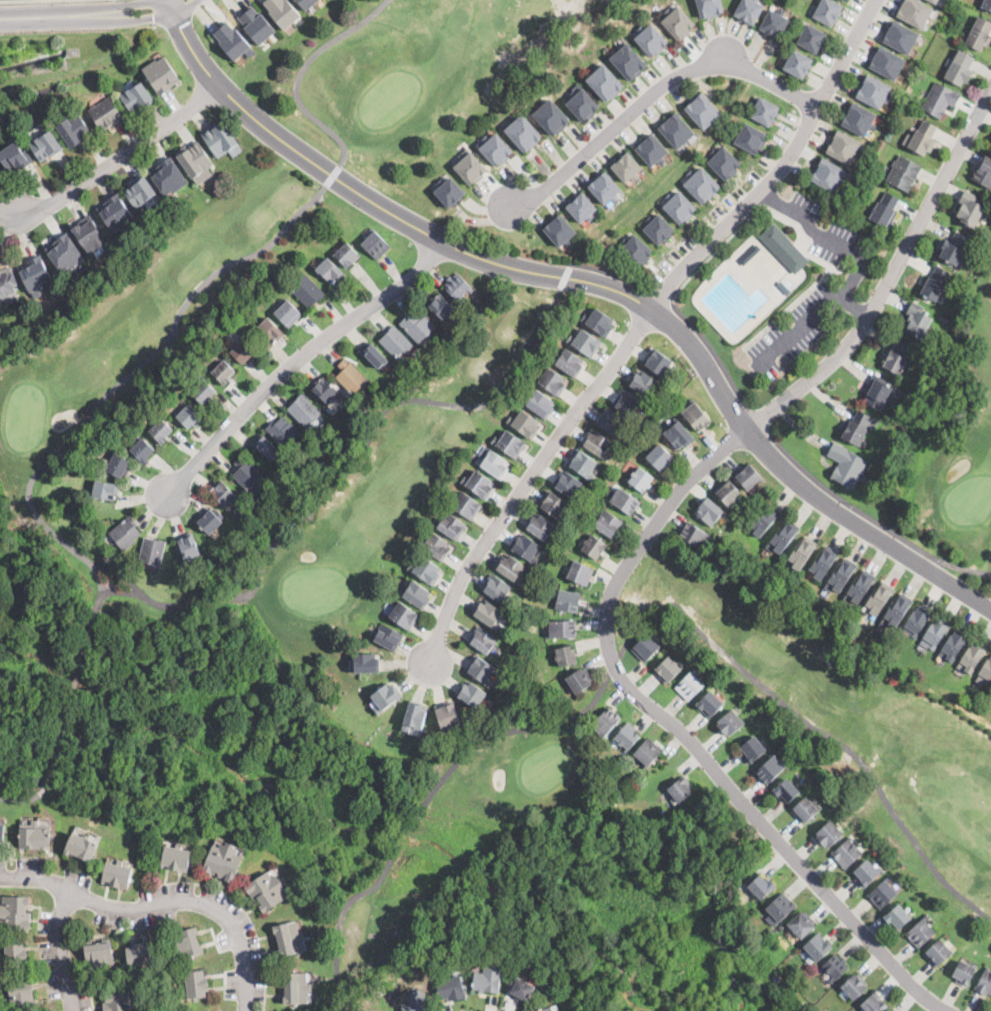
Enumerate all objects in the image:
road: (12, 0)
building: (845, 0)
building: (934, 1)
building: (305, 4)
building: (987, 4)
building: (710, 8)
road: (87, 10)
building: (749, 10)
building: (281, 12)
building: (827, 12)
building: (915, 12)
building: (678, 23)
building: (774, 24)
building: (255, 25)
building: (979, 34)
building: (901, 37)
building: (148, 38)
building: (811, 38)
building: (231, 40)
building: (651, 40)
building: (628, 62)
building: (887, 63)
building: (800, 65)
building: (960, 69)
road: (304, 71)
building: (161, 75)
building: (604, 82)
road: (652, 90)
building: (873, 91)
building: (137, 97)
building: (940, 99)
building: (583, 105)
building: (702, 110)
building: (763, 110)
building: (106, 113)
building: (550, 116)
building: (859, 119)
building: (73, 129)
building: (676, 130)
building: (523, 133)
building: (749, 137)
building: (924, 137)
building: (221, 139)
building: (45, 145)
building: (990, 145)
building: (844, 147)
building: (496, 150)
building: (652, 150)
building: (15, 157)
road: (124, 158)
building: (196, 162)
building: (724, 162)
building: (627, 167)
road: (779, 167)
building: (470, 168)
building: (983, 171)
building: (904, 172)
building: (829, 174)
road: (332, 175)
building: (168, 176)
building: (700, 184)
building: (604, 188)
building: (139, 191)
building: (449, 191)
road: (773, 199)
building: (679, 207)
building: (581, 208)
building: (970, 208)
building: (885, 210)
building: (116, 212)
building: (657, 228)
building: (560, 230)
building: (88, 234)
building: (375, 244)
building: (784, 248)
building: (954, 248)
building: (635, 250)
road: (712, 252)
building: (65, 253)
building: (749, 253)
building: (347, 254)
building: (329, 270)
road: (606, 271)
building: (36, 275)
road: (563, 276)
road: (891, 276)
parking lot: (850, 281)
road: (591, 282)
road: (850, 283)
building: (935, 283)
building: (7, 284)
building: (457, 286)
building: (783, 286)
building: (306, 290)
road: (656, 296)
building: (442, 306)
road: (853, 306)
building: (288, 312)
building: (945, 316)
building: (916, 320)
building: (599, 322)
building: (417, 326)
building: (270, 330)
building: (395, 342)
building: (584, 342)
building: (243, 351)
road: (712, 353)
building: (374, 354)
road: (297, 357)
building: (897, 357)
building: (568, 362)
building: (658, 362)
building: (223, 371)
building: (352, 376)
building: (552, 380)
building: (643, 382)
building: (325, 390)
building: (203, 391)
building: (876, 393)
road: (96, 403)
building: (538, 403)
building: (629, 403)
building: (303, 409)
building: (189, 416)
building: (696, 416)
road: (757, 418)
building: (611, 422)
building: (524, 423)
building: (858, 427)
building: (161, 430)
building: (283, 431)
building: (679, 435)
building: (509, 443)
building: (597, 444)
building: (266, 446)
building: (142, 450)
park: (947, 450)
building: (659, 456)
building: (493, 463)
building: (582, 463)
building: (846, 465)
building: (118, 466)
road: (338, 467)
building: (248, 474)
building: (748, 476)
building: (641, 478)
road: (527, 479)
building: (478, 484)
building: (568, 484)
building: (105, 490)
building: (728, 492)
building: (222, 493)
park: (280, 495)
building: (622, 499)
building: (553, 503)
building: (465, 505)
building: (708, 511)
road: (870, 518)
building: (211, 519)
building: (764, 520)
building: (608, 523)
building: (450, 526)
building: (541, 527)
building: (125, 533)
building: (694, 534)
building: (782, 536)
building: (434, 545)
building: (525, 546)
building: (594, 546)
building: (189, 547)
building: (151, 551)
building: (802, 552)
building: (823, 562)
building: (511, 567)
building: (425, 569)
road: (115, 572)
building: (580, 573)
building: (840, 575)
building: (860, 586)
building: (496, 588)
building: (415, 594)
building: (878, 598)
building: (568, 600)
building: (896, 610)
building: (488, 613)
building: (402, 614)
building: (915, 621)
building: (562, 629)
building: (935, 633)
building: (387, 636)
road: (707, 637)
building: (482, 639)
building: (953, 645)
building: (645, 647)
building: (566, 654)
building: (972, 657)
building: (366, 663)
building: (669, 668)
building: (480, 669)
building: (985, 673)
building: (579, 680)
road: (72, 684)
building: (689, 685)
building: (470, 693)
building: (385, 697)
building: (710, 703)
building: (415, 715)
building: (446, 716)
building: (606, 721)
building: (729, 723)
park: (863, 727)
road: (682, 732)
building: (626, 735)
building: (753, 749)
building: (647, 751)
road: (49, 767)
building: (770, 768)
building: (680, 788)
building: (786, 790)
building: (805, 808)
road: (404, 832)
building: (1, 834)
building: (828, 834)
building: (35, 837)
building: (79, 848)
building: (847, 853)
building: (176, 857)
building: (223, 861)
building: (867, 873)
building: (117, 874)
building: (761, 886)
building: (266, 890)
building: (882, 893)
road: (162, 903)
building: (780, 908)
building: (15, 912)
road: (339, 916)
building: (897, 918)
building: (800, 924)
building: (920, 931)
building: (288, 938)
building: (187, 942)
building: (817, 947)
road: (64, 950)
building: (938, 952)
building: (98, 953)
building: (14, 955)
building: (140, 955)
building: (835, 966)
building: (963, 973)
building: (776, 977)
building: (487, 979)
building: (984, 982)
building: (196, 984)
building: (854, 986)
building: (295, 987)
building: (449, 988)
building: (521, 989)
building: (21, 996)
building: (117, 1001)
building: (417, 1002)
building: (874, 1004)
building: (799, 1005)
building: (546, 1009)
building: (891, 1010)

